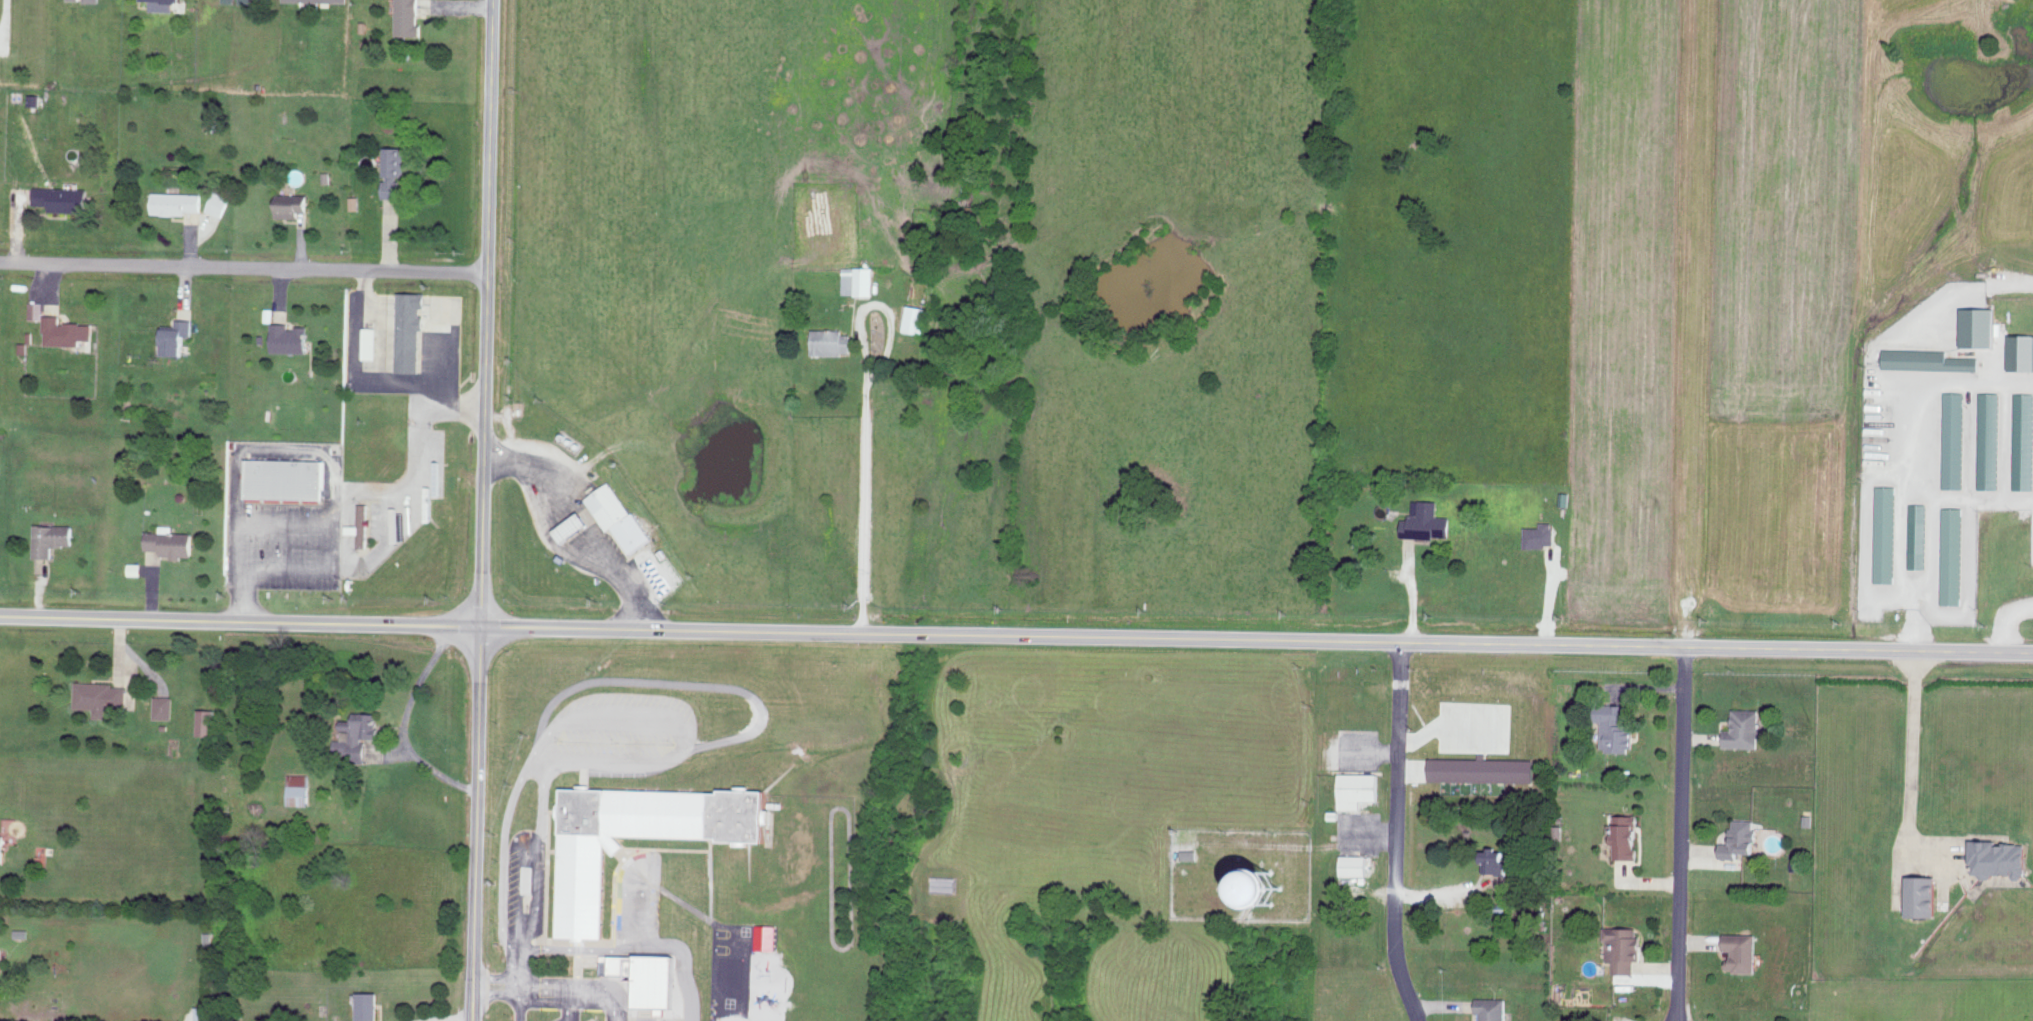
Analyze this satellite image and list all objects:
building: (93, 0)
building: (230, 0)
building: (335, 0)
building: (247, 1)
building: (163, 4)
building: (409, 17)
building: (35, 98)
building: (394, 169)
building: (64, 198)
building: (176, 202)
building: (218, 202)
building: (355, 202)
building: (292, 204)
road: (244, 268)
building: (858, 279)
road: (1965, 289)
building: (36, 309)
building: (916, 318)
building: (1981, 326)
building: (412, 329)
building: (66, 330)
building: (179, 336)
building: (290, 337)
building: (372, 341)
building: (833, 341)
building: (2022, 351)
building: (1929, 359)
road: (354, 373)
road: (860, 416)
road: (1925, 435)
building: (1955, 439)
building: (1989, 439)
building: (2023, 440)
building: (289, 478)
road: (483, 510)
building: (619, 516)
building: (1427, 520)
building: (362, 524)
building: (575, 525)
gas station: (570, 527)
road: (573, 531)
building: (1885, 533)
building: (1541, 535)
building: (1918, 535)
building: (52, 538)
building: (171, 541)
road: (385, 541)
building: (1953, 555)
road: (1926, 575)
road: (240, 621)
road: (1257, 639)
building: (101, 696)
building: (164, 707)
building: (207, 721)
road: (402, 722)
building: (1618, 727)
building: (1744, 729)
building: (359, 735)
road: (1913, 749)
road: (528, 768)
building: (1484, 769)
building: (1359, 788)
building: (298, 789)
road: (1395, 833)
road: (1678, 833)
building: (1628, 836)
building: (1741, 838)
building: (2, 847)
building: (1190, 853)
building: (2003, 858)
building: (1497, 860)
building: (1354, 864)
building: (1290, 889)
water tower: (1260, 892)
building: (584, 893)
building: (1925, 896)
building: (766, 936)
road: (664, 946)
building: (1624, 947)
building: (1741, 951)
road: (520, 963)
building: (648, 976)
road: (516, 982)
road: (579, 985)
road: (568, 1002)
building: (369, 1006)
building: (1493, 1008)
road: (458, 1018)
road: (566, 1019)

